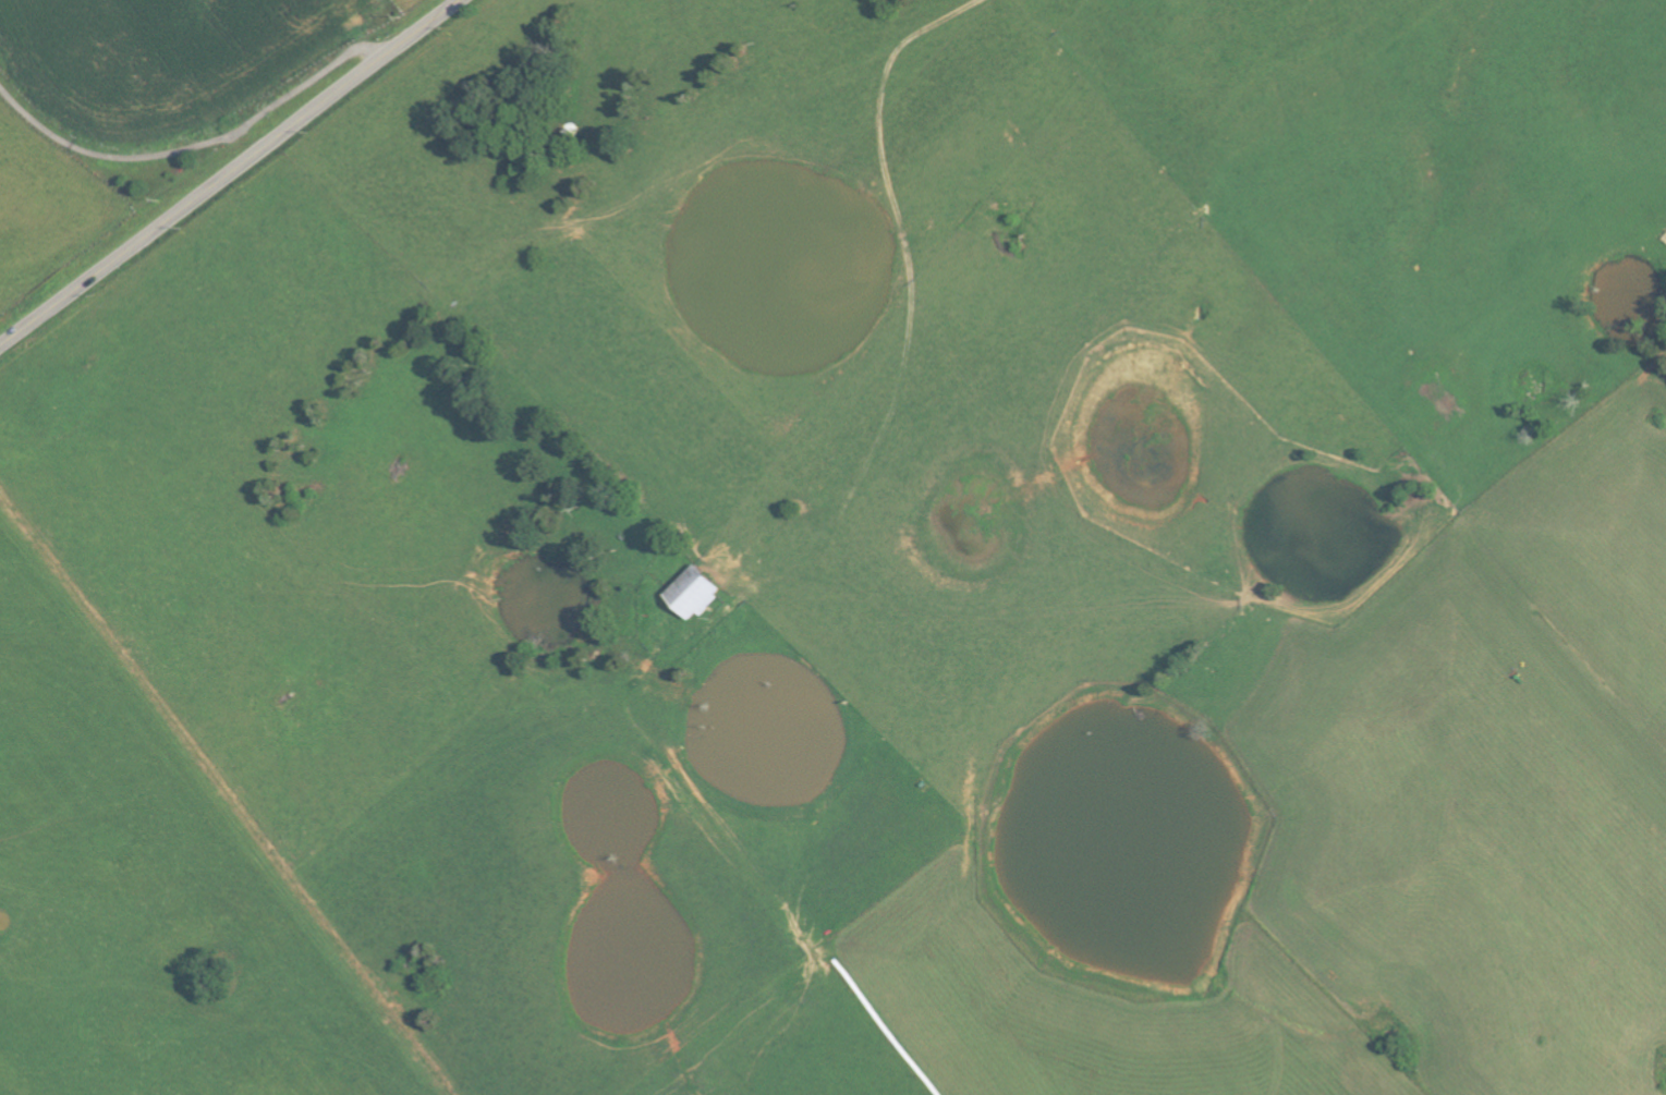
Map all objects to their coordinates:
road: (212, 142)
road: (229, 171)
building: (695, 593)

